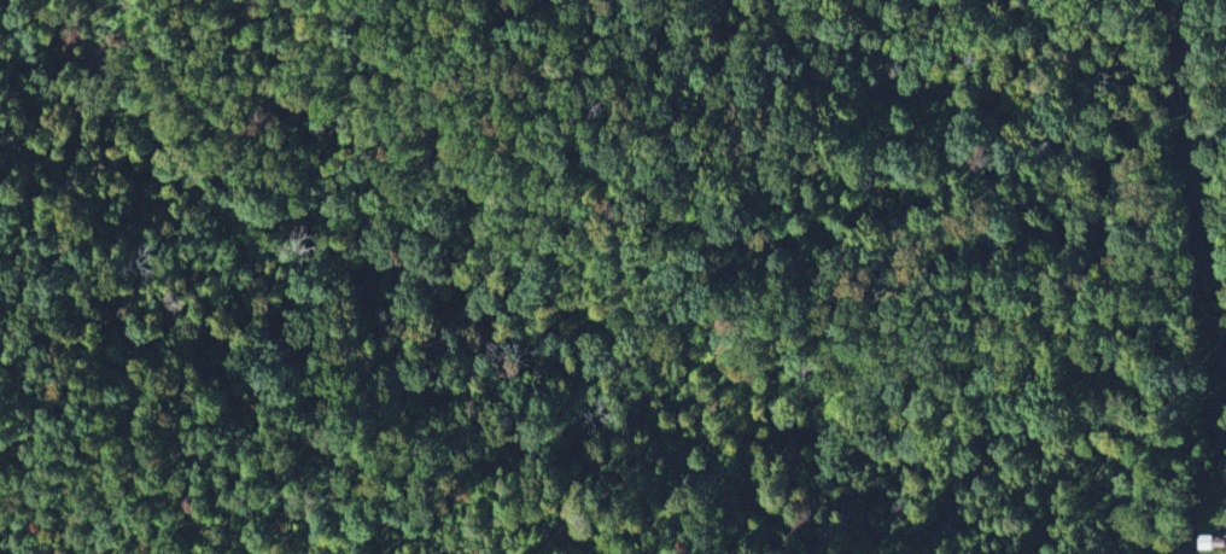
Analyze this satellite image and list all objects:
road: (321, 2)
building: (1204, 543)

